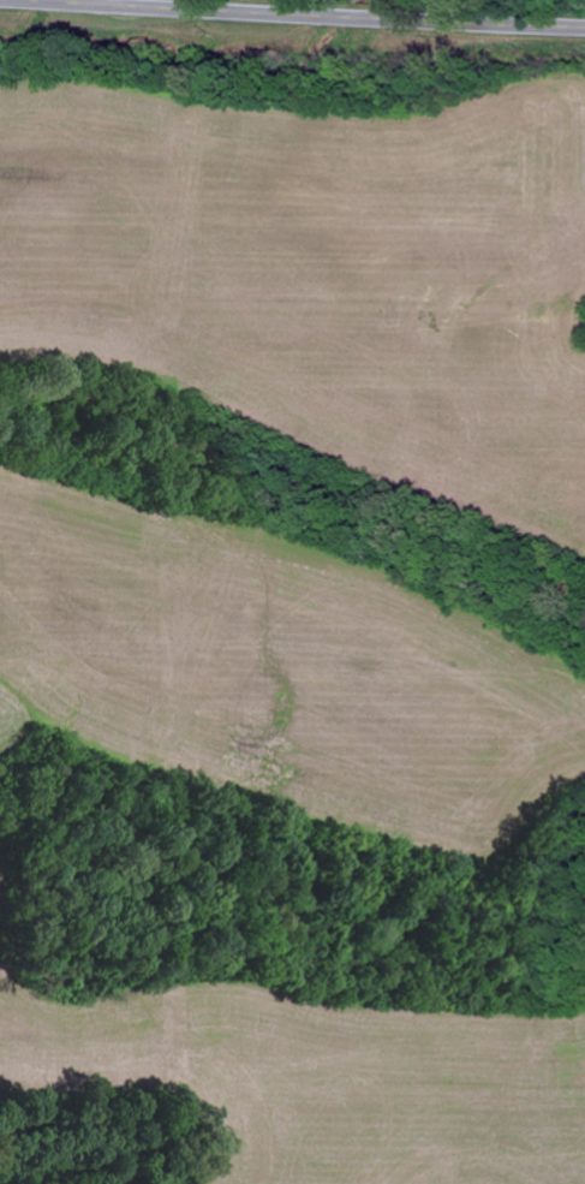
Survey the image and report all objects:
road: (111, 1)
road: (324, 10)

